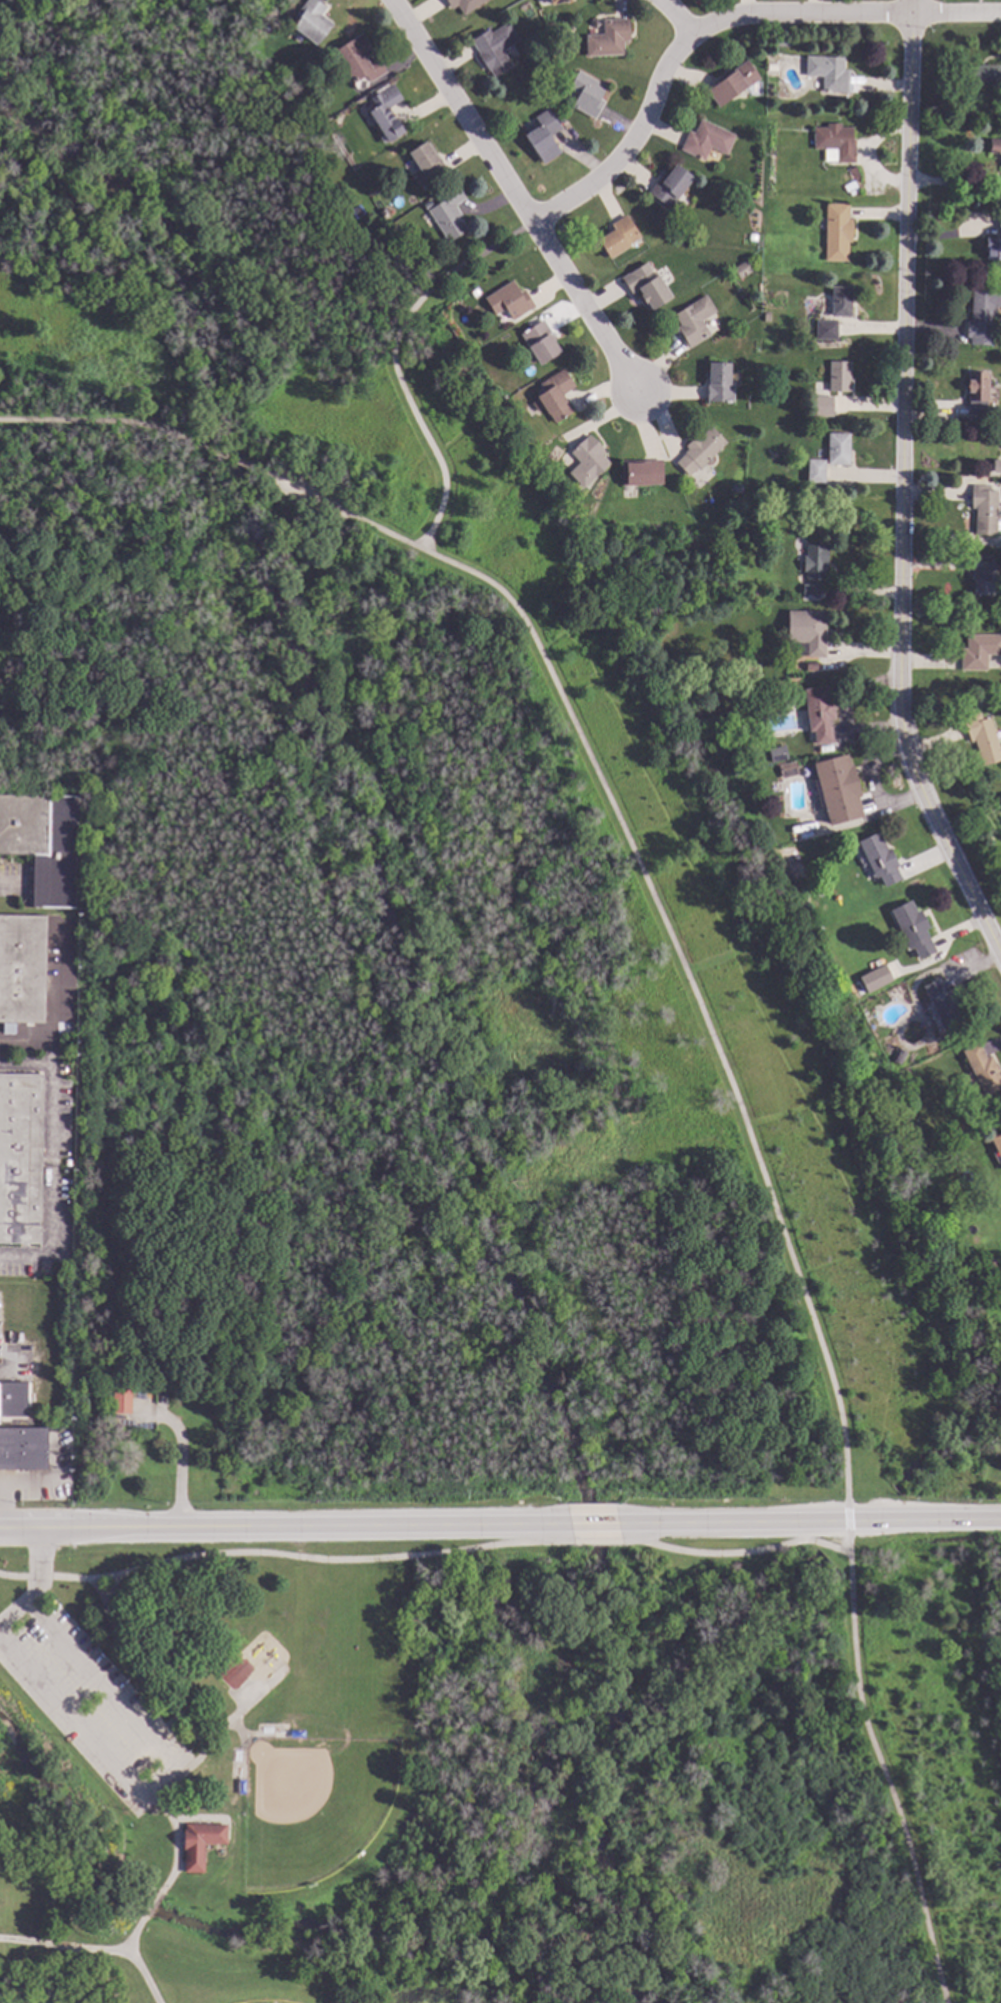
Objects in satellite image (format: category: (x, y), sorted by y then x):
building: (557, 1)
building: (463, 5)
road: (818, 13)
building: (311, 22)
building: (607, 40)
building: (780, 44)
building: (538, 46)
building: (494, 50)
building: (358, 61)
building: (771, 68)
building: (827, 74)
building: (981, 76)
building: (731, 84)
building: (585, 95)
building: (385, 113)
building: (331, 125)
building: (542, 138)
road: (621, 140)
building: (705, 141)
building: (834, 143)
building: (994, 148)
building: (425, 164)
building: (854, 175)
road: (952, 182)
building: (669, 188)
road: (510, 191)
building: (447, 214)
building: (999, 222)
building: (836, 233)
building: (751, 237)
building: (617, 238)
building: (993, 250)
building: (741, 270)
building: (646, 287)
building: (473, 292)
building: (508, 302)
building: (840, 302)
building: (981, 316)
building: (693, 323)
building: (825, 331)
building: (539, 343)
road: (391, 359)
building: (838, 377)
building: (718, 384)
building: (977, 394)
building: (553, 397)
building: (822, 405)
road: (112, 423)
building: (837, 449)
building: (980, 451)
building: (699, 452)
building: (586, 462)
road: (235, 463)
building: (815, 472)
building: (640, 473)
building: (736, 490)
road: (888, 499)
building: (984, 510)
building: (813, 568)
building: (982, 579)
building: (806, 633)
building: (978, 652)
building: (810, 667)
building: (818, 716)
building: (981, 739)
building: (776, 755)
building: (736, 768)
building: (786, 771)
building: (837, 790)
building: (1000, 797)
building: (42, 844)
building: (879, 860)
park: (406, 883)
road: (655, 909)
building: (912, 930)
road: (999, 968)
building: (22, 969)
building: (874, 978)
river: (428, 988)
building: (942, 1003)
building: (898, 1057)
building: (983, 1073)
building: (996, 1148)
building: (19, 1158)
building: (981, 1295)
building: (13, 1400)
building: (120, 1402)
building: (23, 1450)
road: (179, 1457)
road: (2, 1503)
road: (813, 1521)
road: (847, 1521)
road: (597, 1525)
road: (283, 1527)
road: (924, 1535)
road: (595, 1542)
road: (734, 1553)
road: (284, 1555)
road: (37, 1584)
road: (111, 1588)
road: (130, 1669)
parking lot: (88, 1702)
road: (225, 1725)
park: (804, 1766)
road: (880, 1771)
park: (306, 1772)
road: (159, 1776)
park: (311, 1806)
road: (173, 1837)
building: (199, 1844)
road: (150, 1905)
road: (133, 1933)
road: (62, 1945)
road: (142, 1976)
park: (269, 2001)

